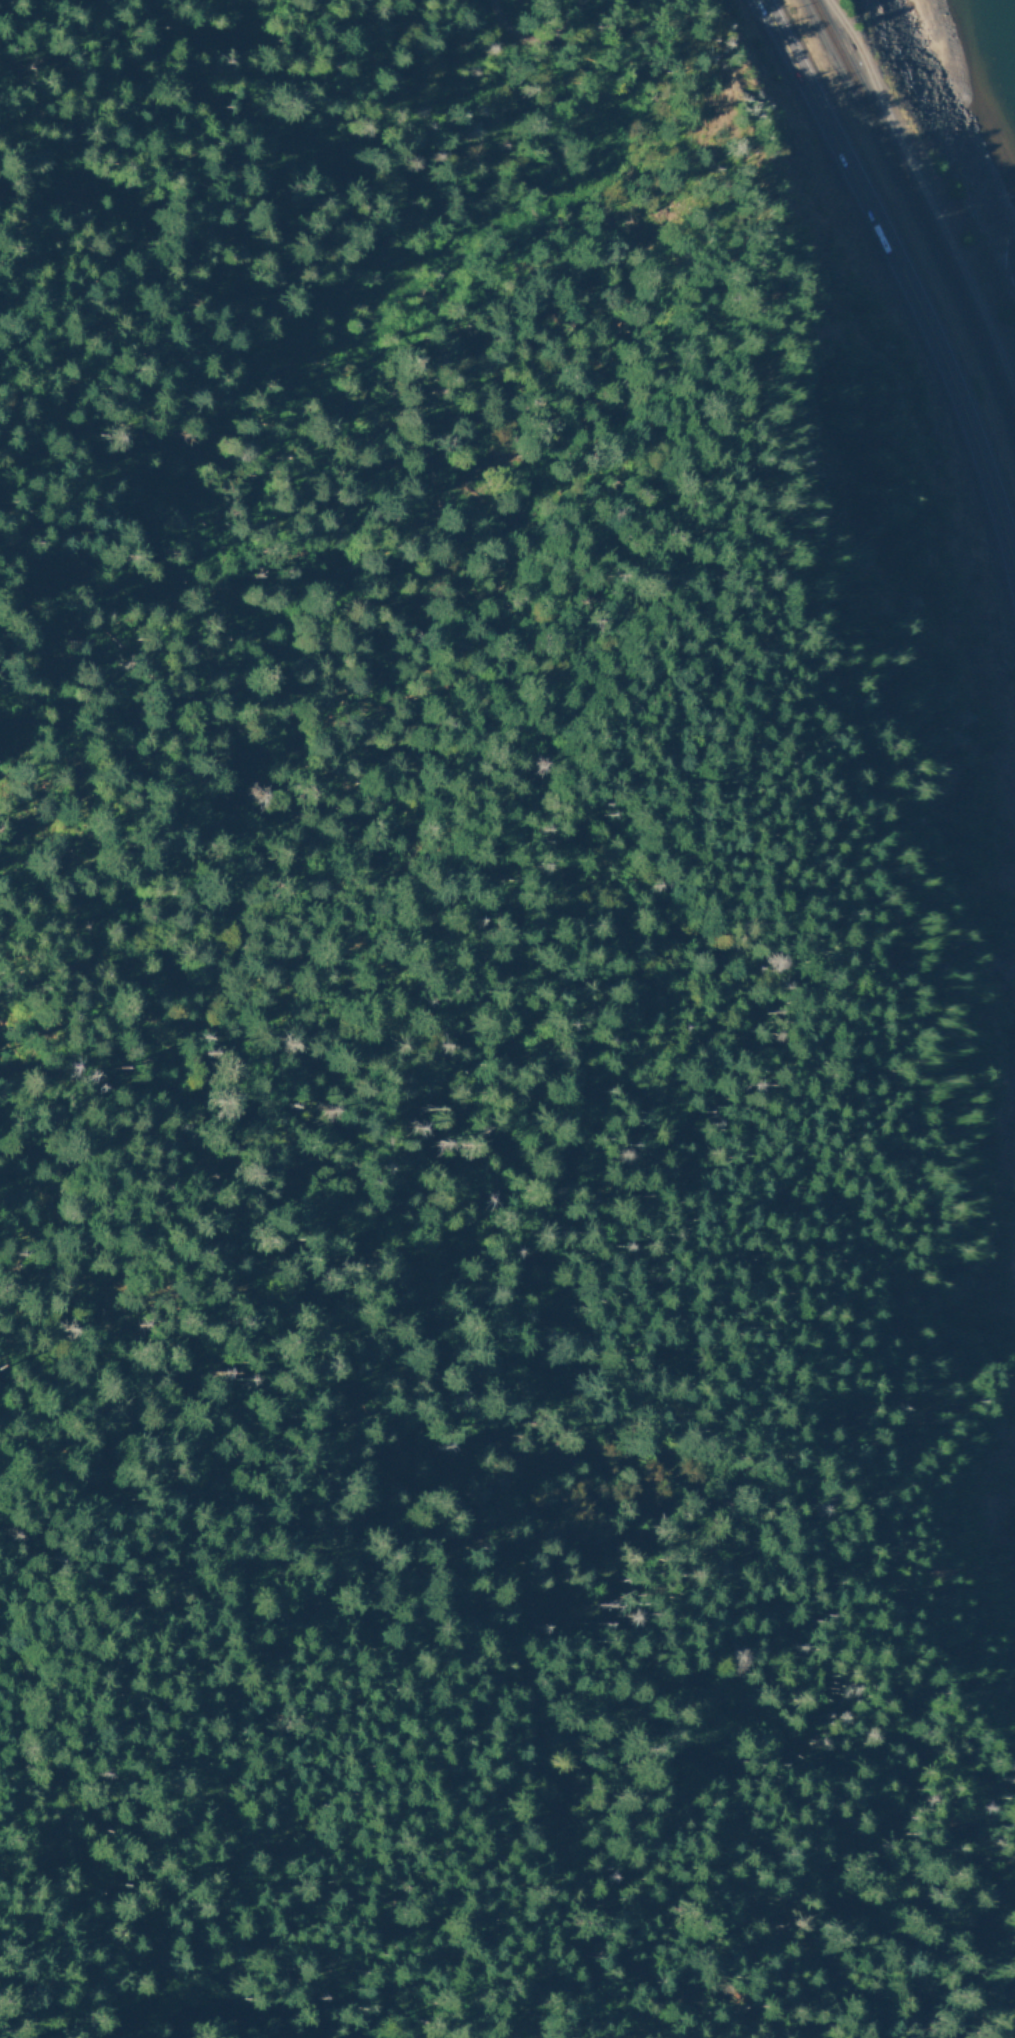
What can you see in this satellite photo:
railway: (920, 213)
road: (907, 275)
road: (382, 1140)

